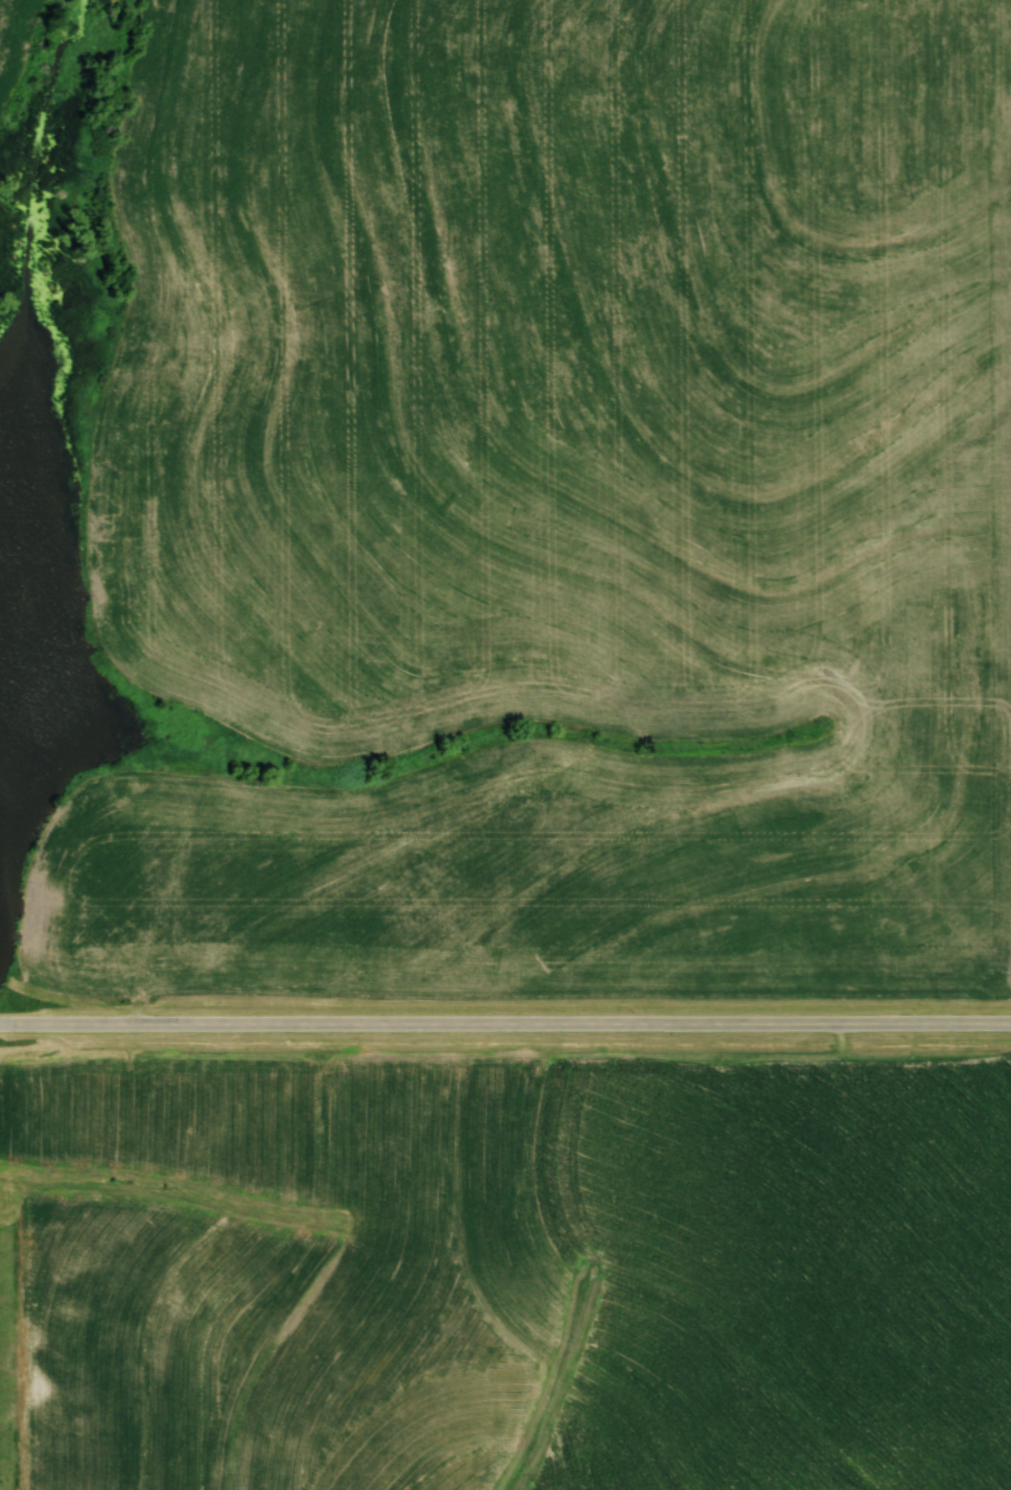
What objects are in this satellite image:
road: (505, 1028)

